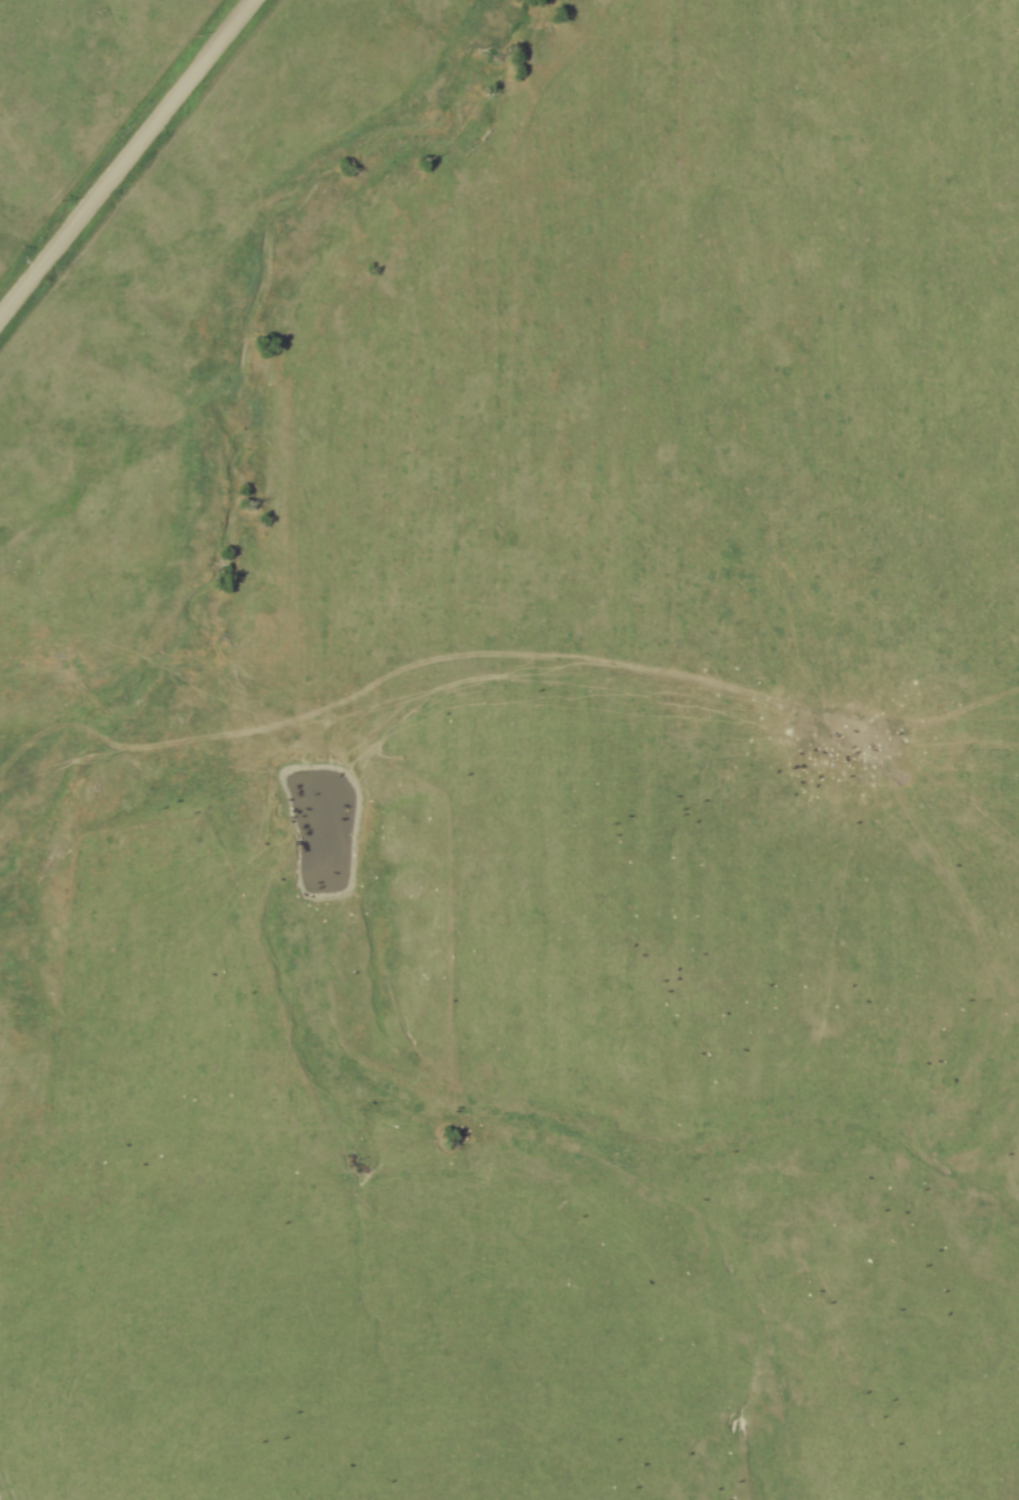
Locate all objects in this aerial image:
road: (126, 157)

